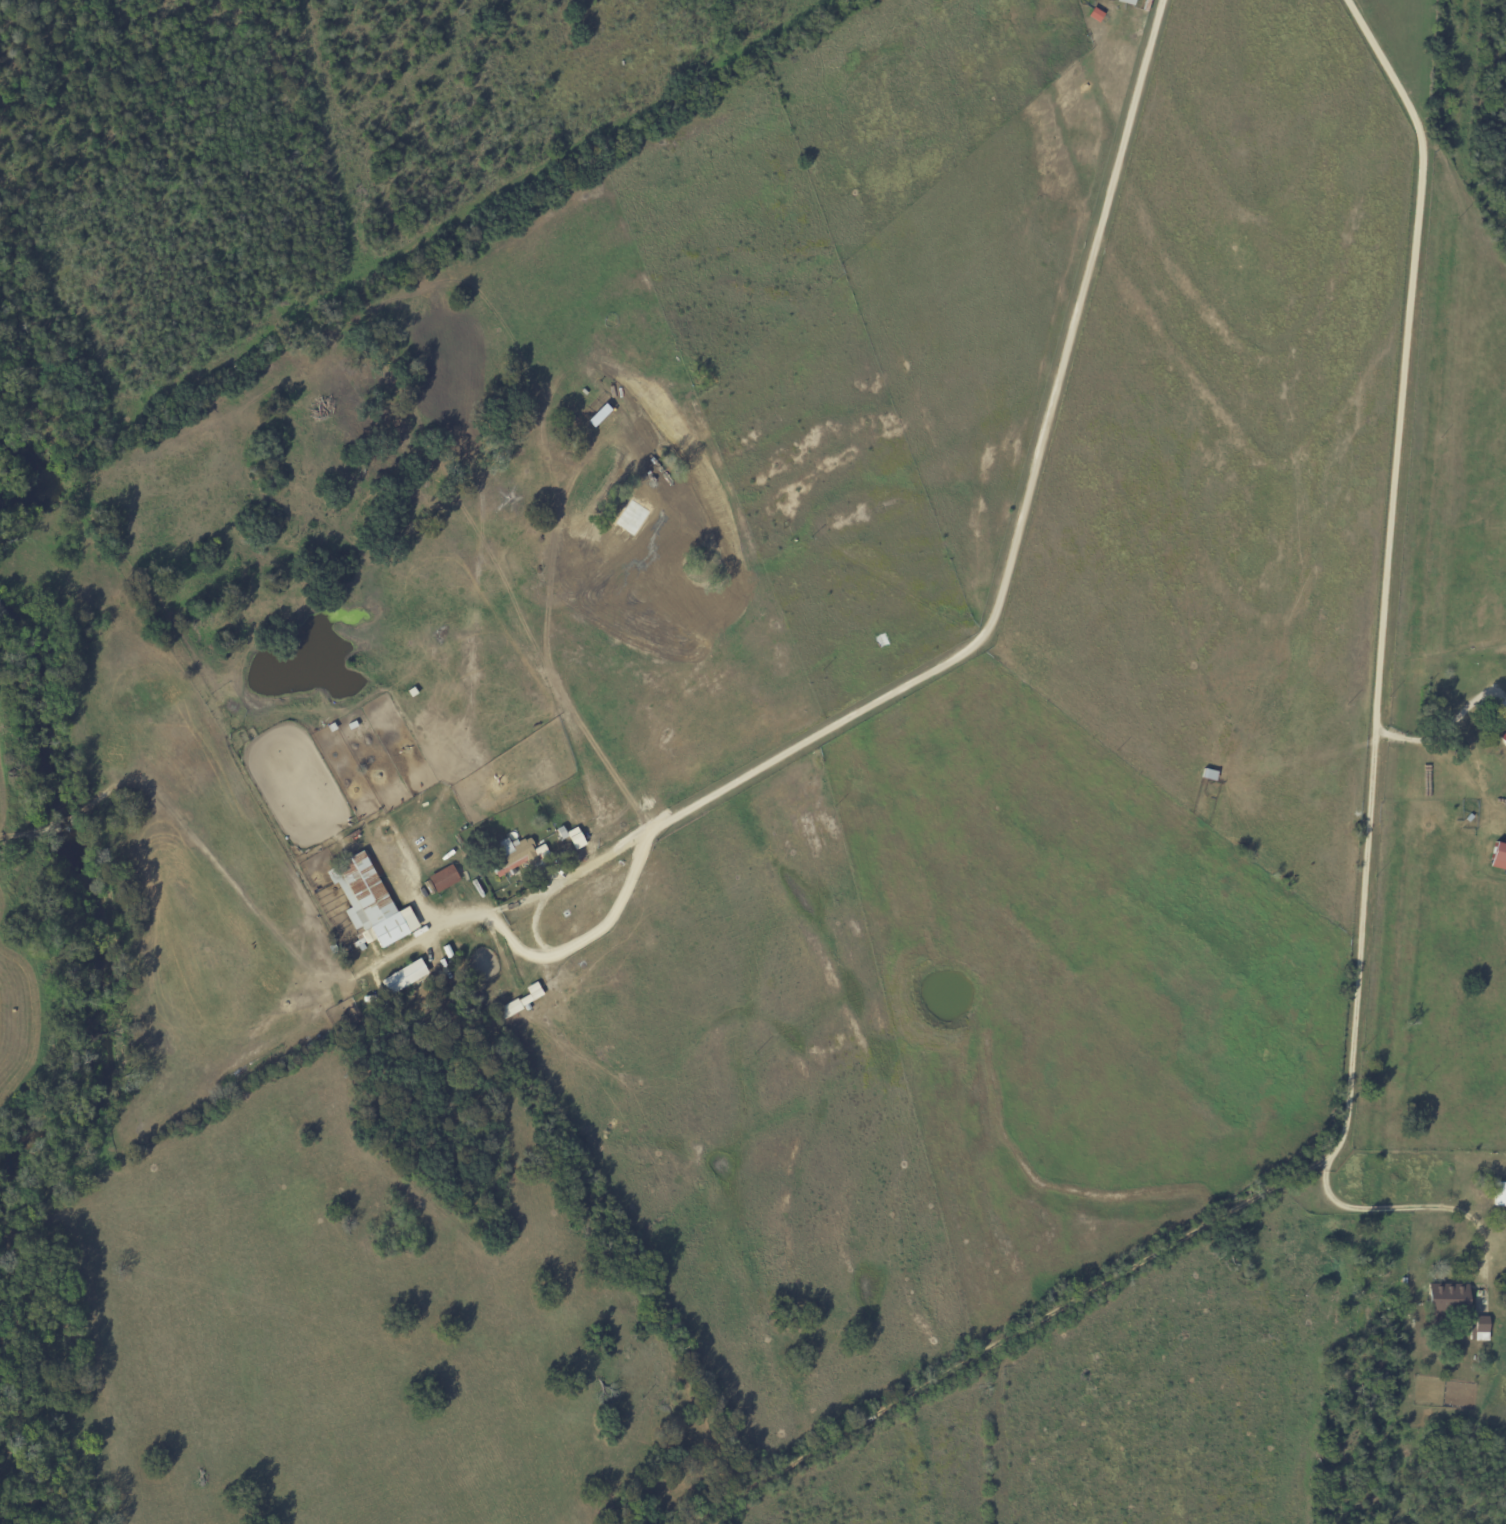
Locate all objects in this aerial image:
building: (1125, 1)
road: (972, 639)
building: (1504, 715)
building: (1502, 739)
road: (1419, 741)
building: (574, 837)
building: (522, 854)
building: (1496, 857)
building: (446, 878)
building: (373, 902)
road: (1357, 939)
road: (405, 948)
road: (492, 953)
building: (407, 977)
building: (1498, 1194)
road: (1423, 1209)
building: (1444, 1298)
building: (1479, 1328)
road: (827, 1391)

